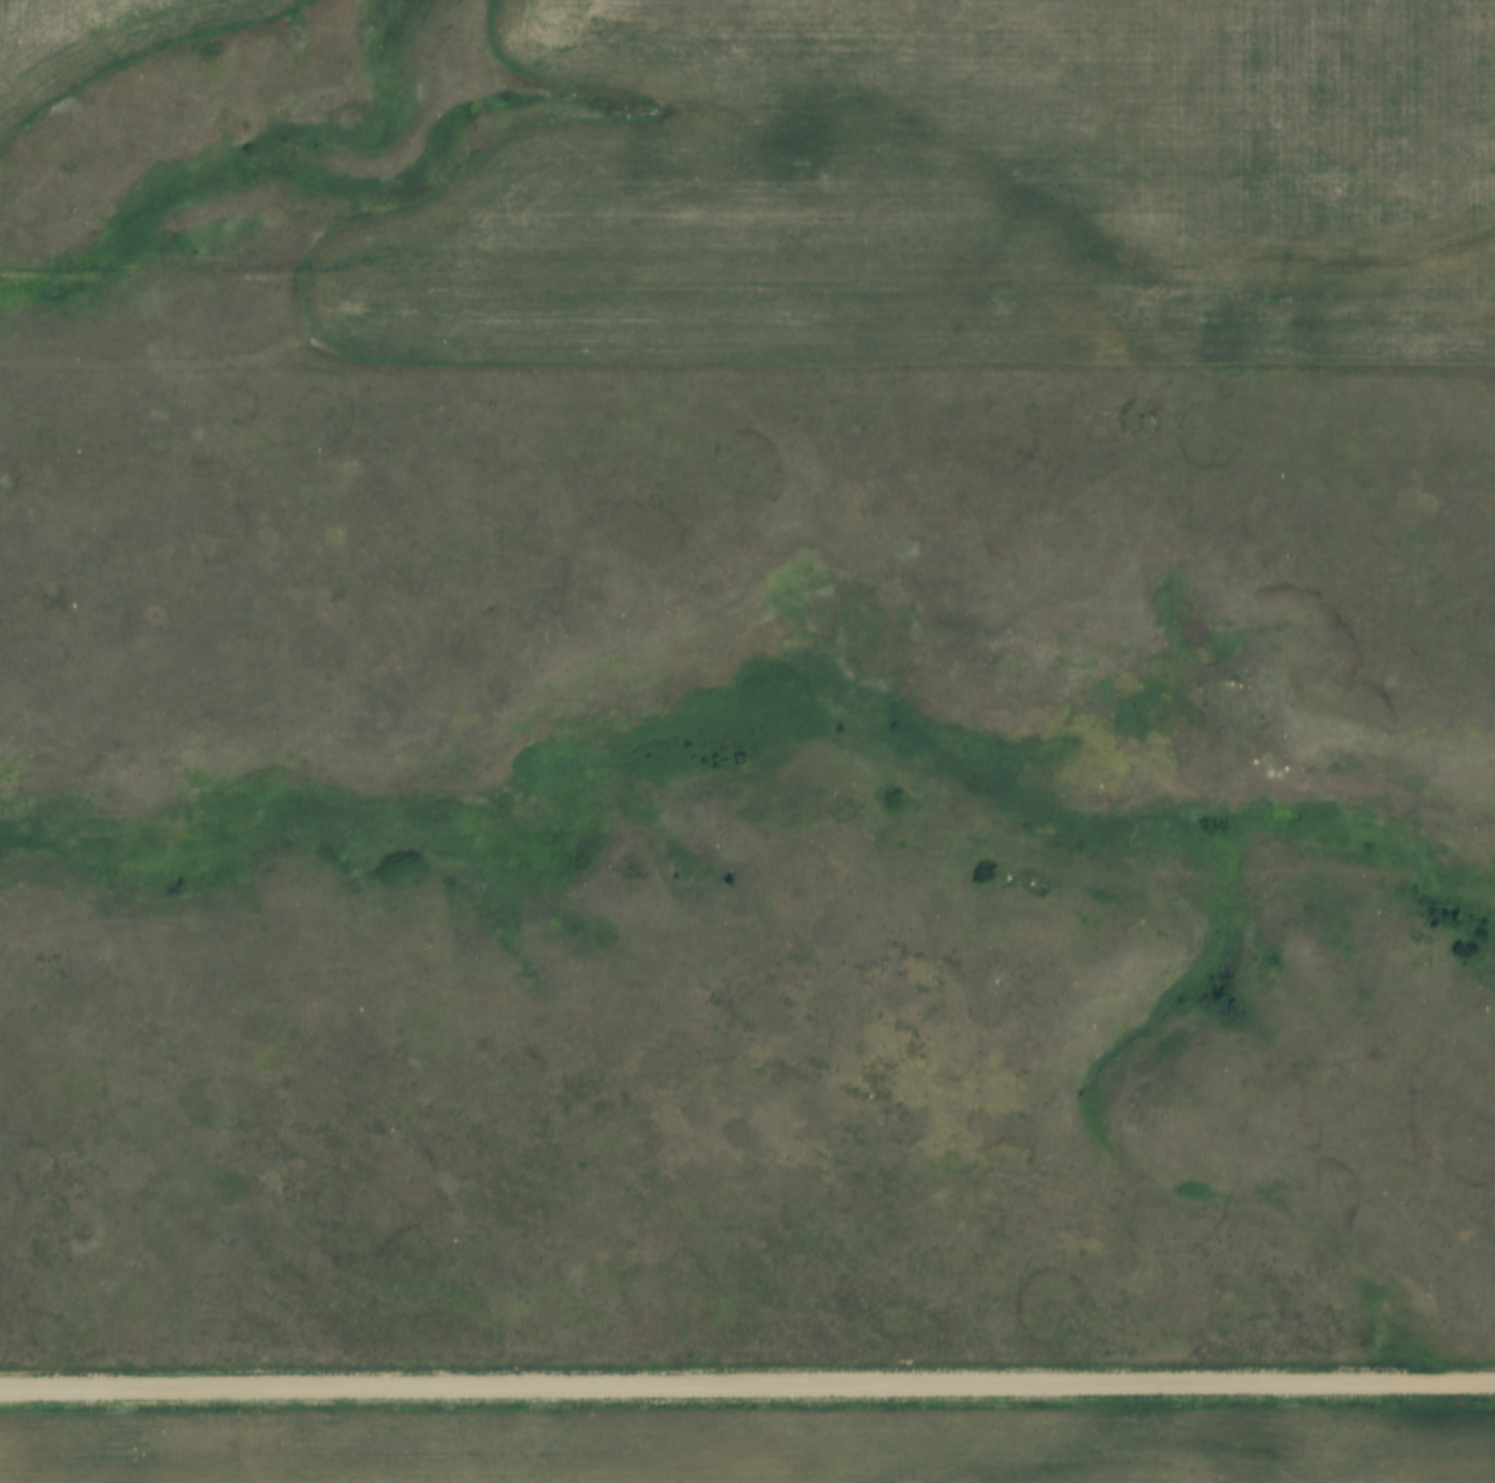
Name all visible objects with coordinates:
road: (747, 1389)

